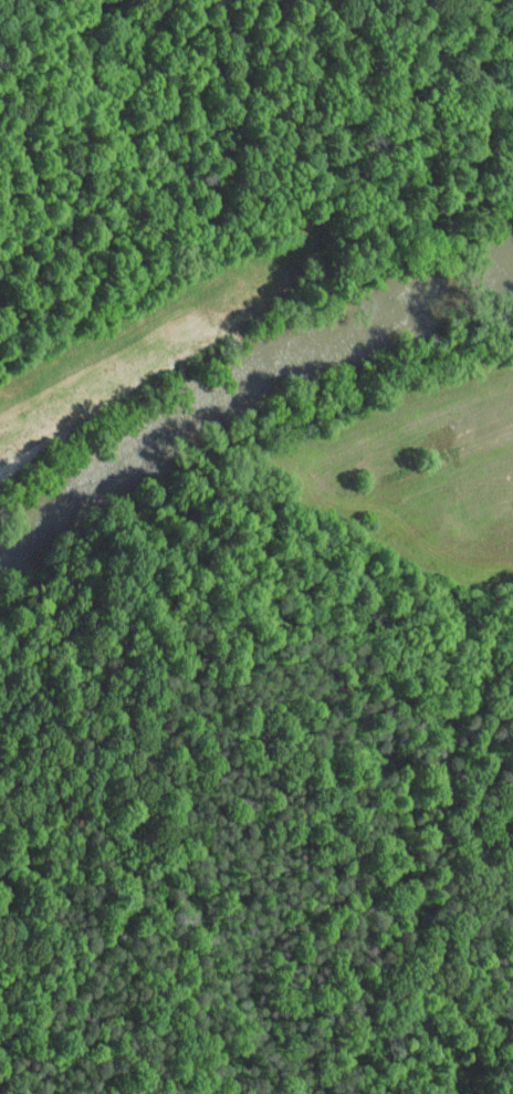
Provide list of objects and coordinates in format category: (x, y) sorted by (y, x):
river: (241, 389)

